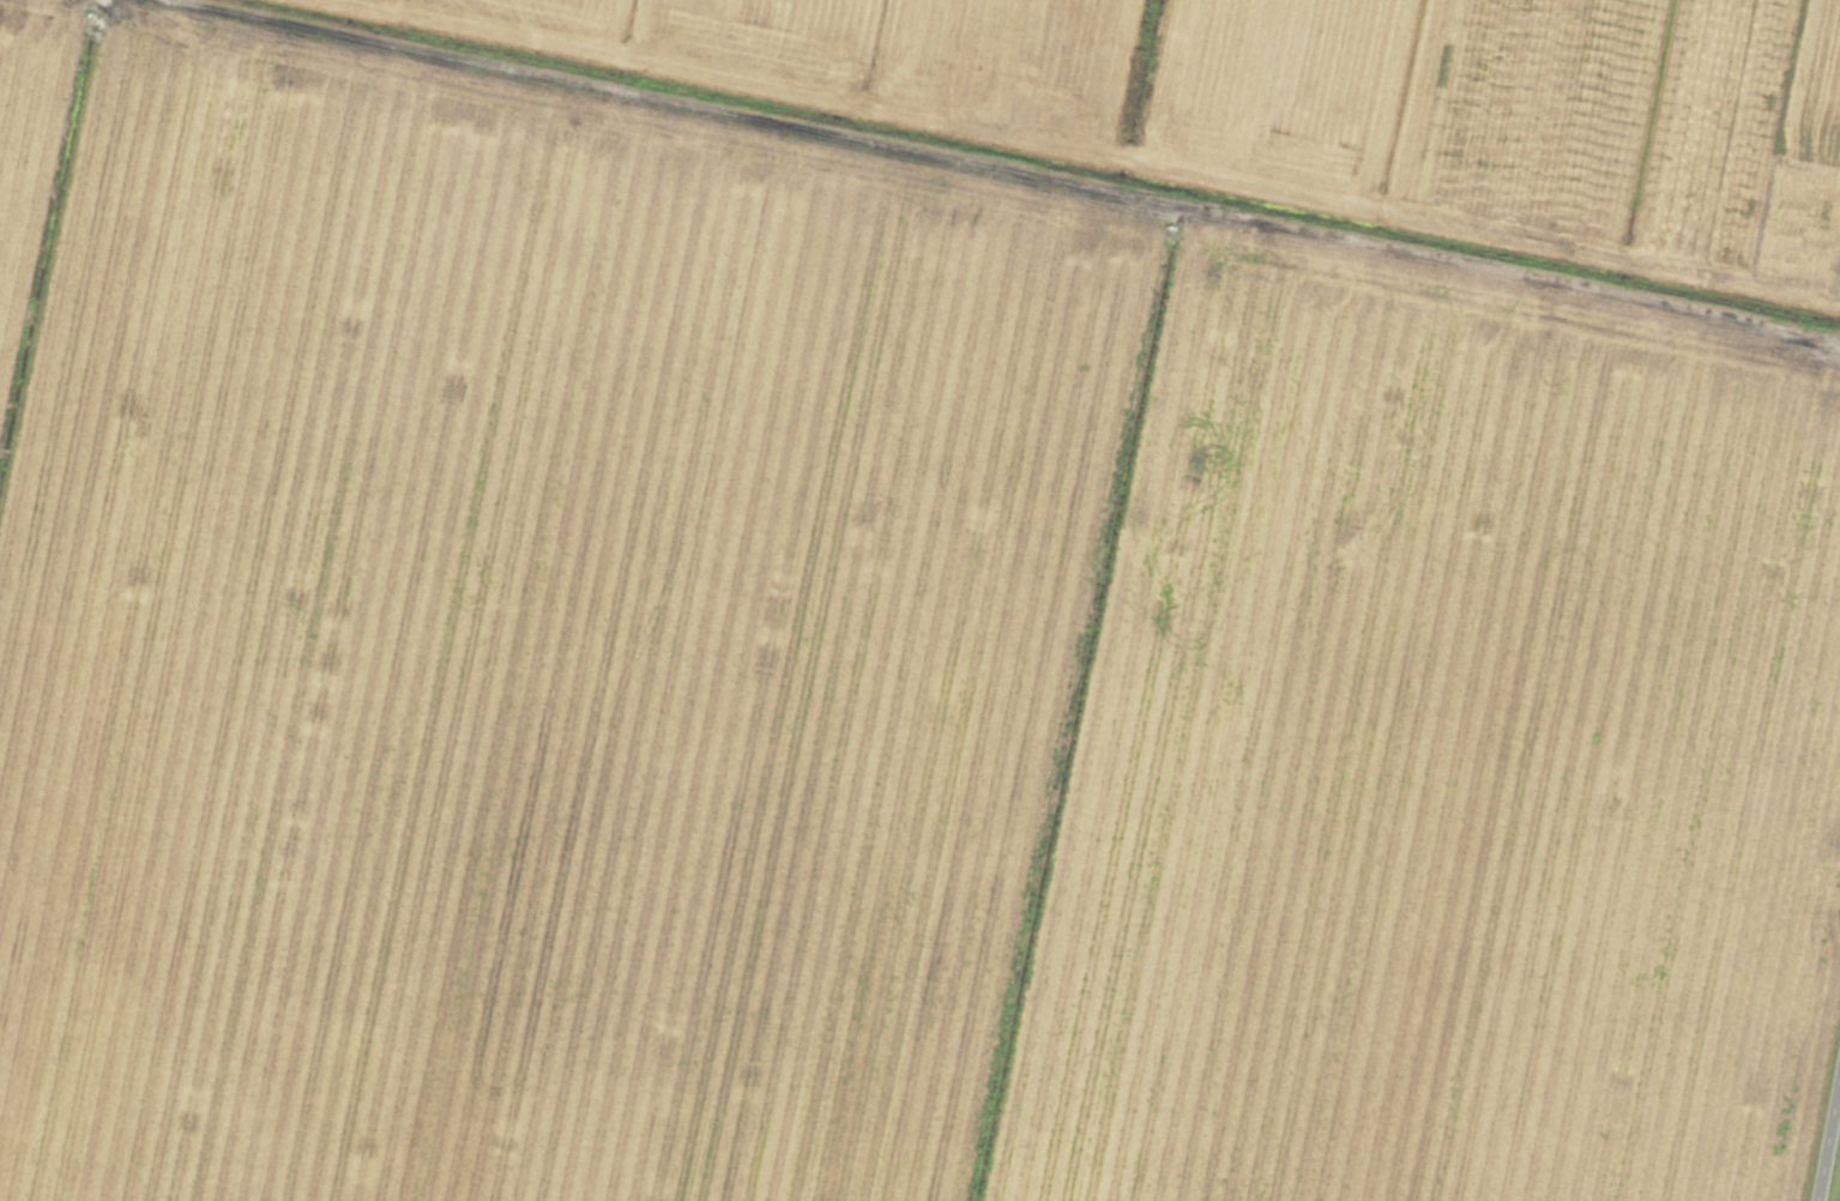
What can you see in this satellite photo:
road: (1830, 1152)

